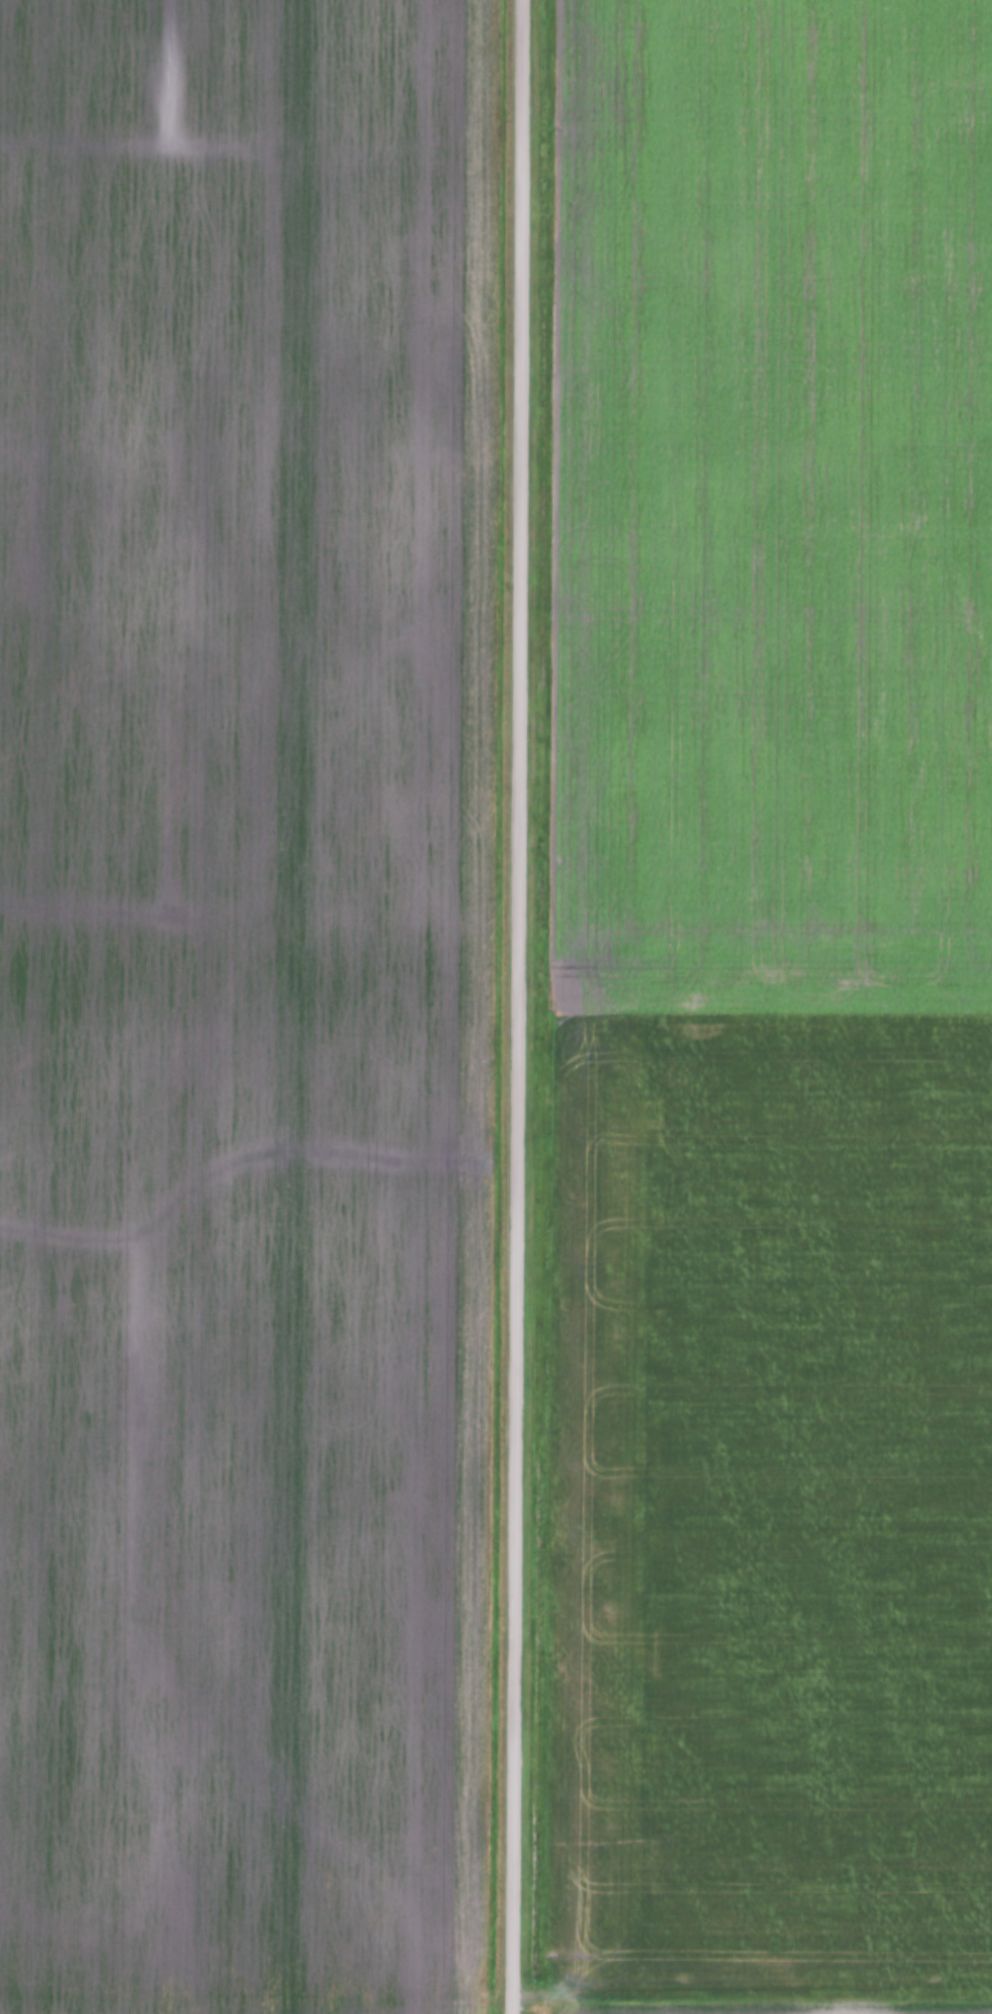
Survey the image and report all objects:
road: (518, 1007)

